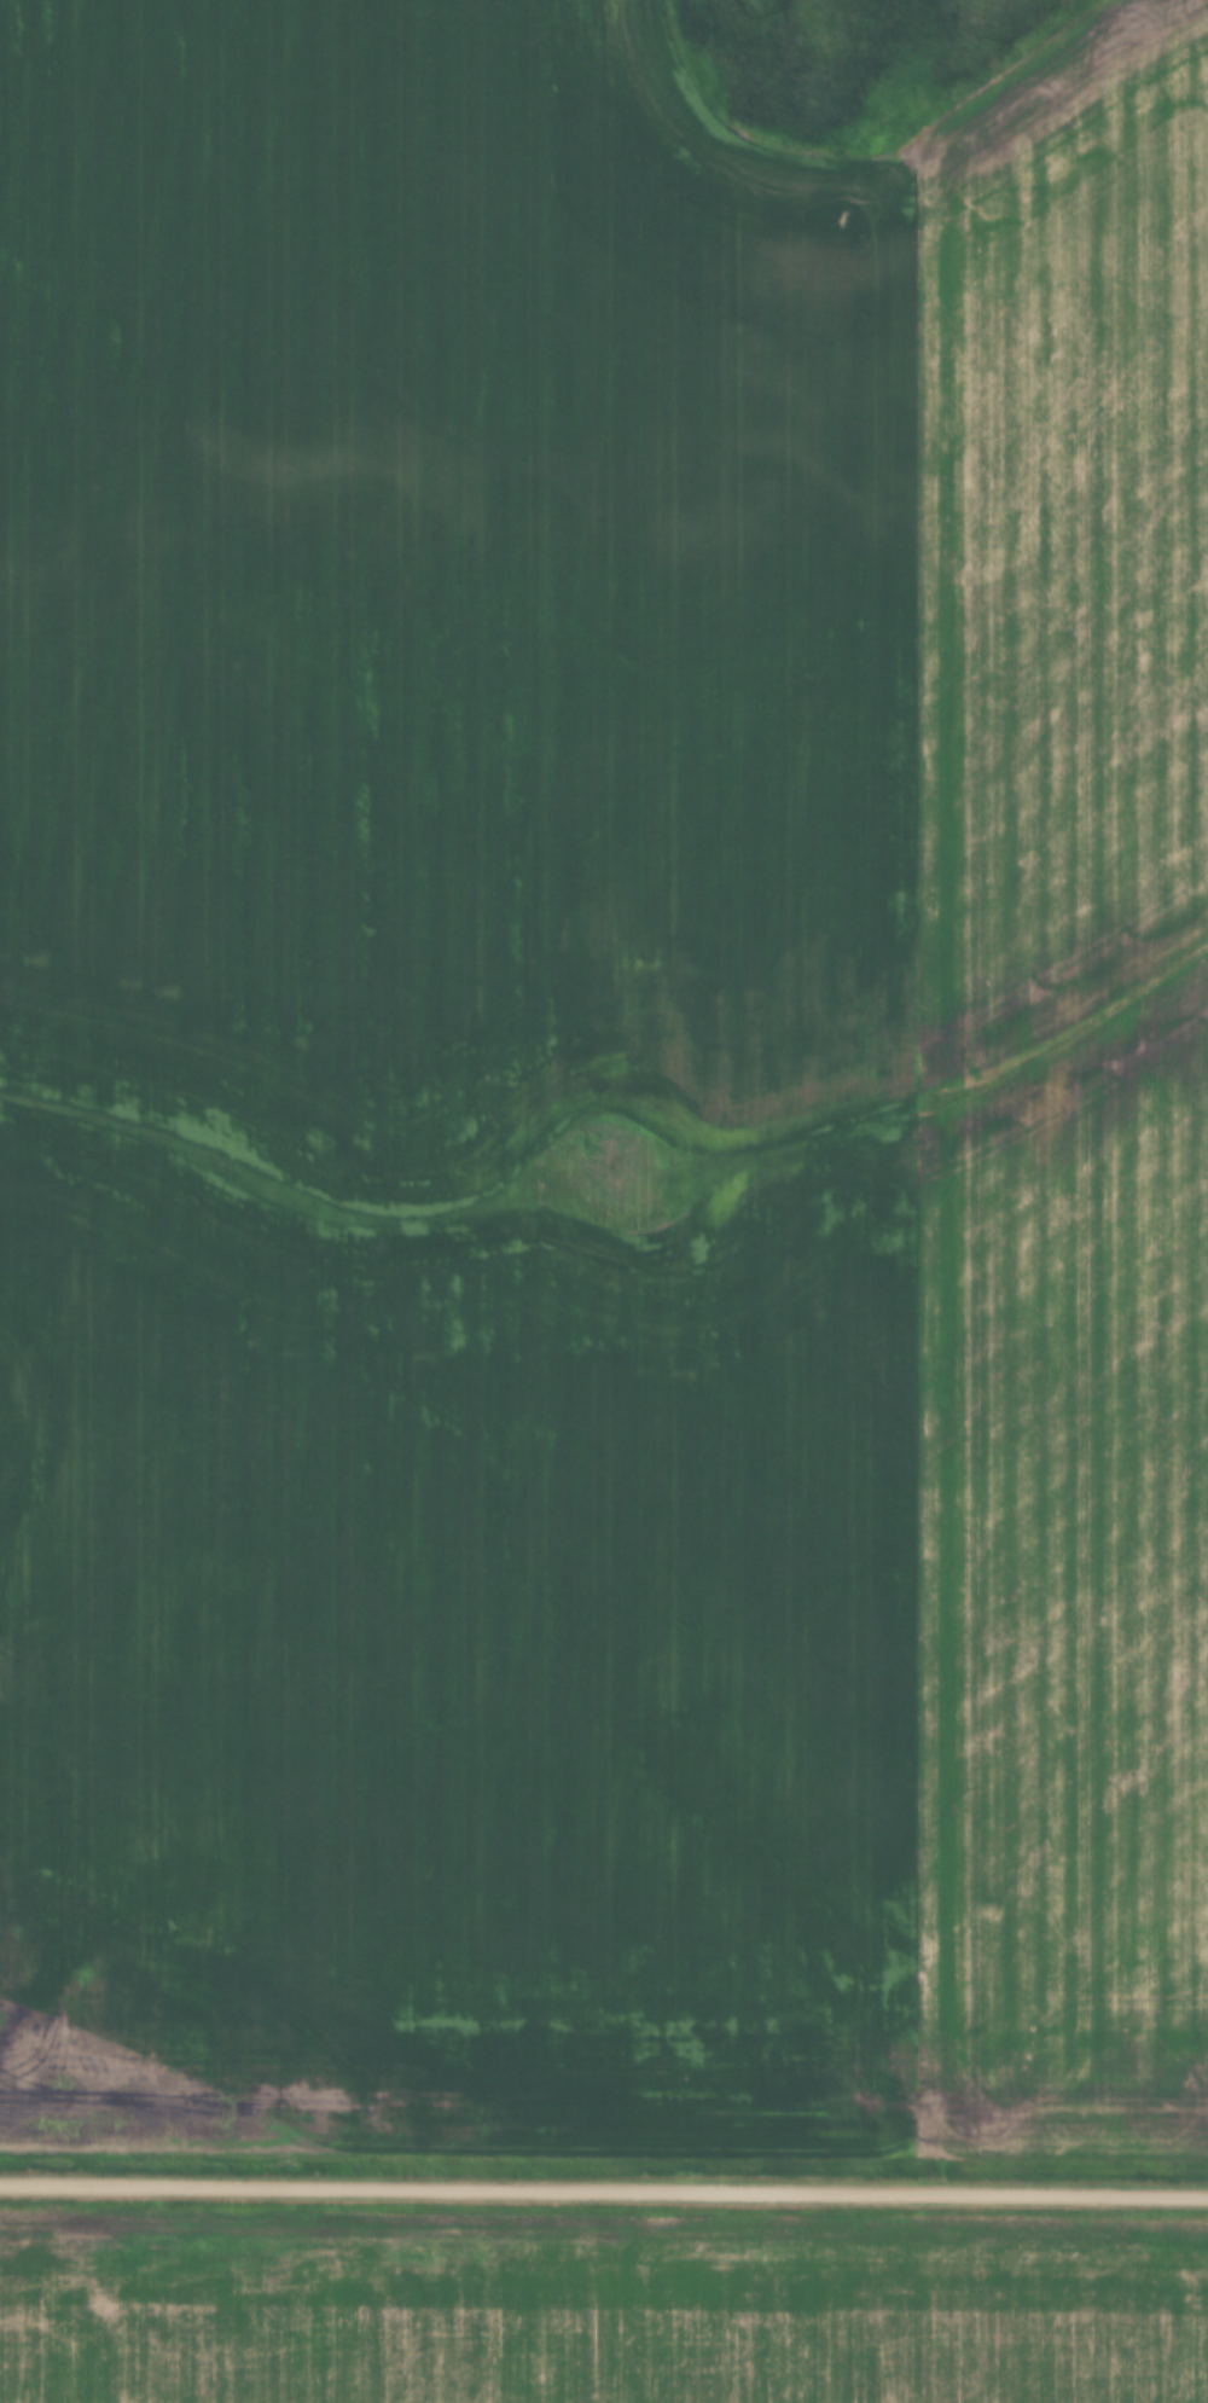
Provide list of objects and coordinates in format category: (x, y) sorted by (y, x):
road: (604, 2187)

